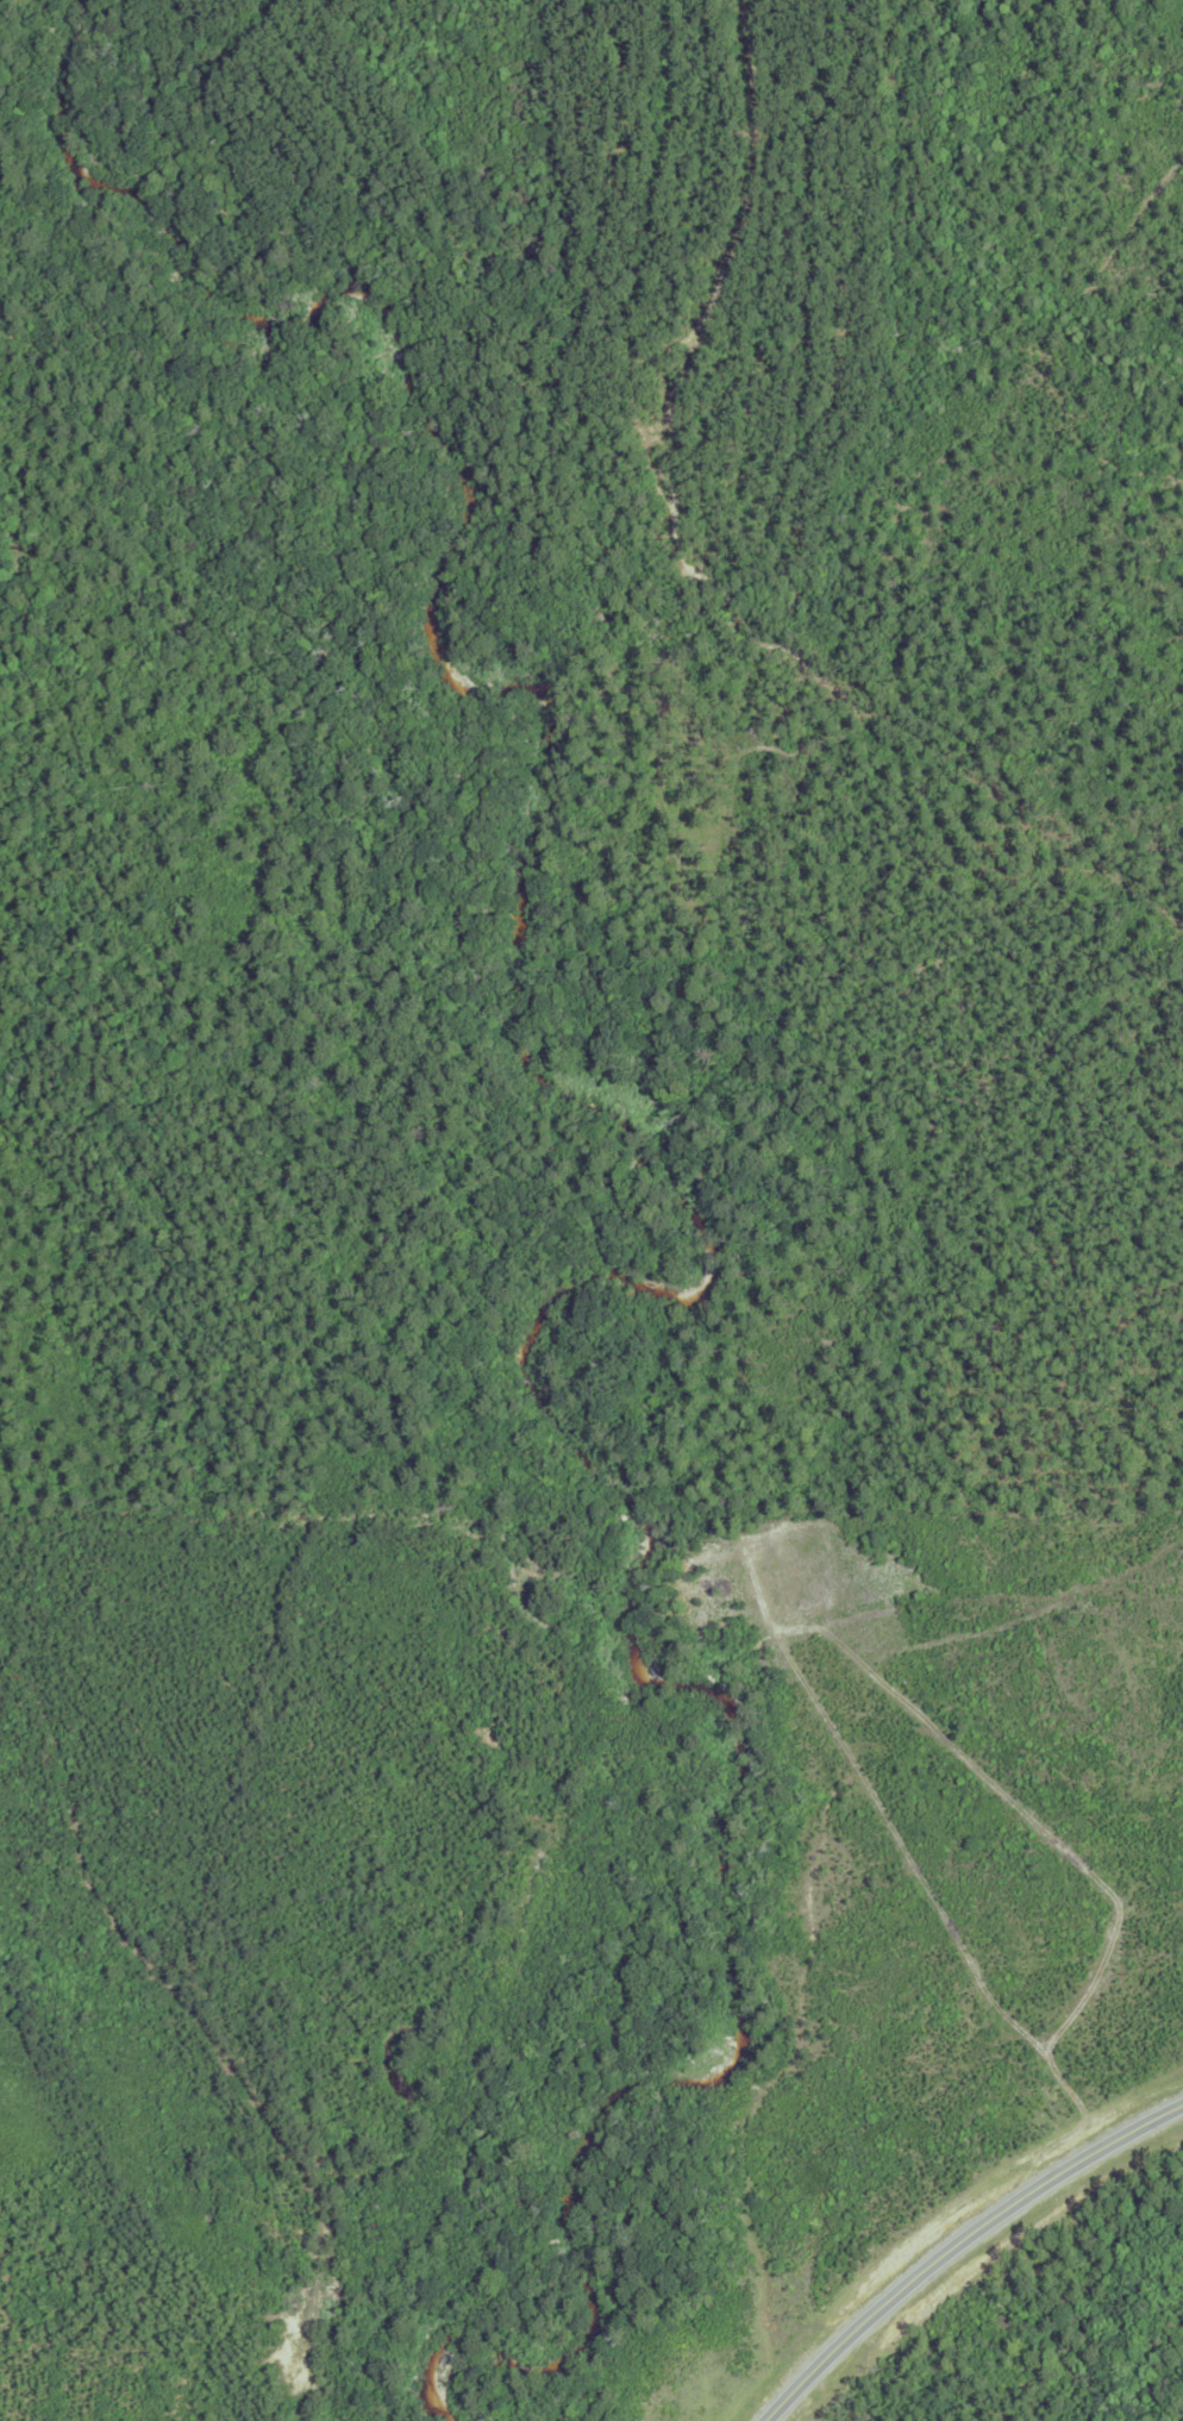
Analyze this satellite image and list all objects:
road: (959, 2245)

